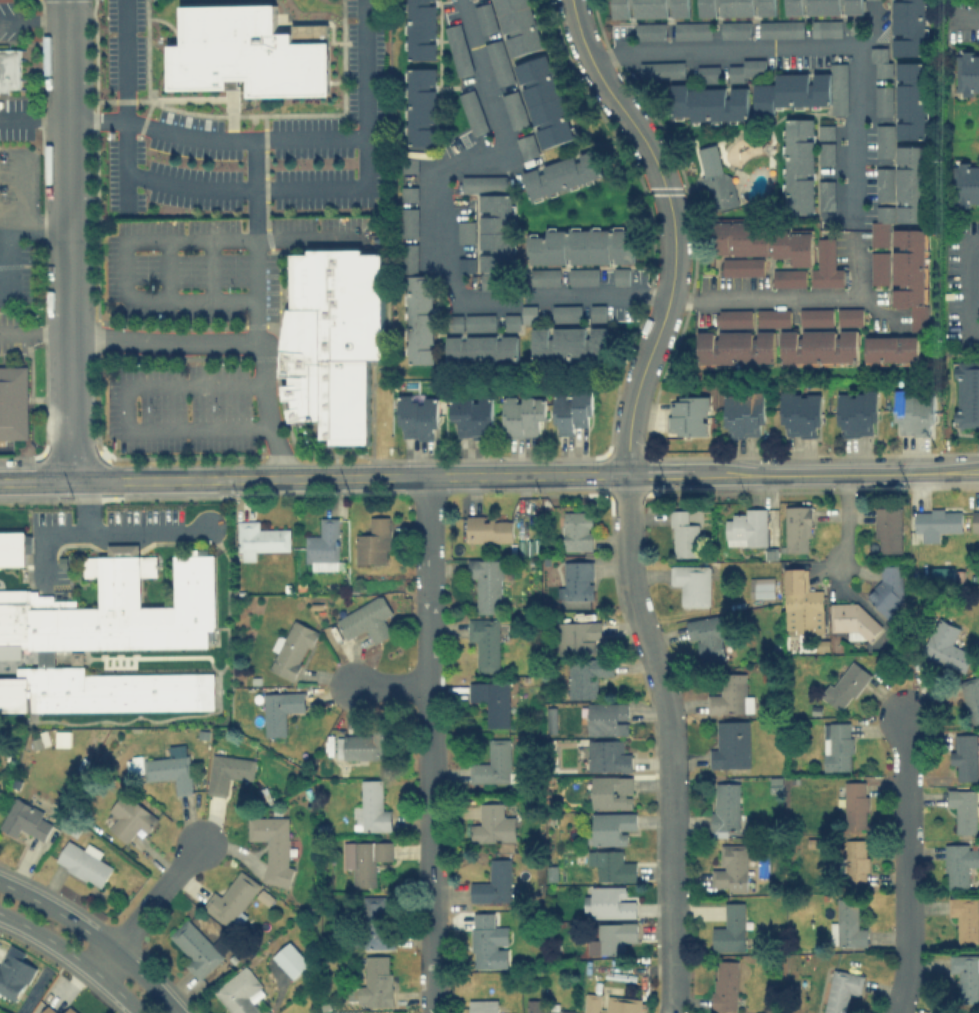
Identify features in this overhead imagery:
building: (736, 7)
building: (822, 7)
building: (649, 8)
building: (484, 17)
road: (964, 17)
road: (33, 21)
building: (519, 25)
building: (825, 27)
building: (908, 27)
building: (781, 28)
building: (420, 29)
building: (735, 29)
building: (649, 30)
building: (692, 30)
road: (874, 30)
road: (807, 47)
building: (458, 48)
building: (248, 51)
building: (879, 60)
building: (498, 61)
building: (9, 68)
building: (746, 68)
building: (660, 69)
building: (967, 72)
building: (707, 73)
building: (838, 87)
building: (791, 92)
building: (543, 100)
building: (882, 100)
building: (911, 100)
building: (709, 102)
building: (420, 105)
road: (124, 106)
building: (513, 109)
building: (472, 111)
road: (34, 116)
road: (215, 135)
parking lot: (234, 137)
building: (883, 140)
building: (526, 144)
building: (826, 144)
building: (798, 165)
building: (563, 173)
building: (484, 183)
building: (903, 183)
building: (967, 183)
road: (336, 186)
building: (718, 187)
building: (409, 193)
building: (825, 194)
building: (882, 213)
building: (408, 221)
road: (672, 227)
building: (465, 231)
building: (495, 233)
building: (878, 233)
road: (7, 236)
road: (437, 237)
road: (69, 239)
road: (254, 239)
road: (155, 241)
building: (765, 241)
building: (582, 244)
building: (409, 256)
parking lot: (200, 264)
building: (465, 264)
building: (741, 265)
building: (826, 265)
building: (878, 267)
road: (167, 270)
road: (211, 270)
building: (978, 270)
building: (908, 273)
building: (621, 275)
building: (544, 276)
building: (583, 276)
building: (788, 277)
road: (967, 285)
road: (799, 295)
road: (873, 306)
building: (528, 312)
building: (565, 312)
building: (597, 312)
building: (848, 316)
building: (734, 317)
building: (772, 317)
building: (815, 317)
building: (419, 318)
building: (509, 321)
road: (35, 333)
building: (332, 339)
road: (232, 340)
building: (477, 340)
building: (569, 344)
building: (817, 346)
building: (735, 347)
building: (890, 348)
building: (965, 393)
building: (13, 401)
parking lot: (177, 407)
road: (126, 409)
building: (571, 409)
building: (913, 411)
building: (856, 412)
building: (743, 413)
building: (799, 413)
building: (471, 414)
building: (520, 414)
building: (688, 414)
building: (416, 416)
road: (942, 469)
road: (832, 471)
road: (691, 472)
road: (581, 473)
road: (378, 476)
road: (109, 478)
road: (85, 503)
road: (846, 516)
building: (975, 519)
building: (936, 522)
building: (746, 526)
building: (488, 527)
building: (797, 528)
building: (887, 529)
building: (577, 530)
road: (102, 532)
building: (682, 534)
building: (258, 539)
building: (373, 540)
building: (323, 543)
building: (13, 547)
building: (575, 580)
building: (691, 582)
building: (486, 583)
building: (762, 586)
building: (886, 589)
building: (801, 603)
building: (365, 619)
building: (852, 620)
building: (109, 635)
building: (577, 636)
building: (708, 636)
building: (484, 641)
building: (946, 646)
building: (292, 649)
building: (75, 657)
building: (586, 675)
building: (845, 684)
road: (392, 685)
building: (730, 695)
building: (971, 697)
building: (491, 700)
building: (279, 709)
building: (607, 717)
building: (550, 719)
road: (670, 721)
road: (430, 744)
building: (360, 745)
building: (730, 745)
building: (836, 745)
building: (608, 755)
building: (964, 755)
building: (492, 762)
building: (170, 767)
building: (227, 771)
building: (0, 790)
building: (611, 791)
building: (855, 804)
building: (370, 808)
building: (725, 808)
building: (963, 809)
building: (129, 817)
building: (26, 819)
building: (492, 824)
building: (608, 827)
building: (272, 846)
building: (365, 859)
building: (856, 860)
building: (83, 861)
road: (906, 863)
building: (959, 863)
building: (611, 865)
building: (730, 869)
building: (493, 882)
building: (232, 898)
building: (607, 901)
road: (149, 907)
road: (1, 913)
building: (964, 915)
building: (377, 921)
building: (846, 925)
building: (729, 928)
road: (96, 937)
building: (611, 937)
building: (485, 938)
building: (197, 947)
road: (75, 957)
building: (290, 959)
building: (14, 971)
building: (965, 975)
building: (375, 981)
building: (725, 983)
building: (841, 989)
building: (238, 991)
road: (673, 995)
building: (610, 1003)
building: (483, 1006)
building: (49, 1009)
building: (69, 1010)
building: (548, 1010)

